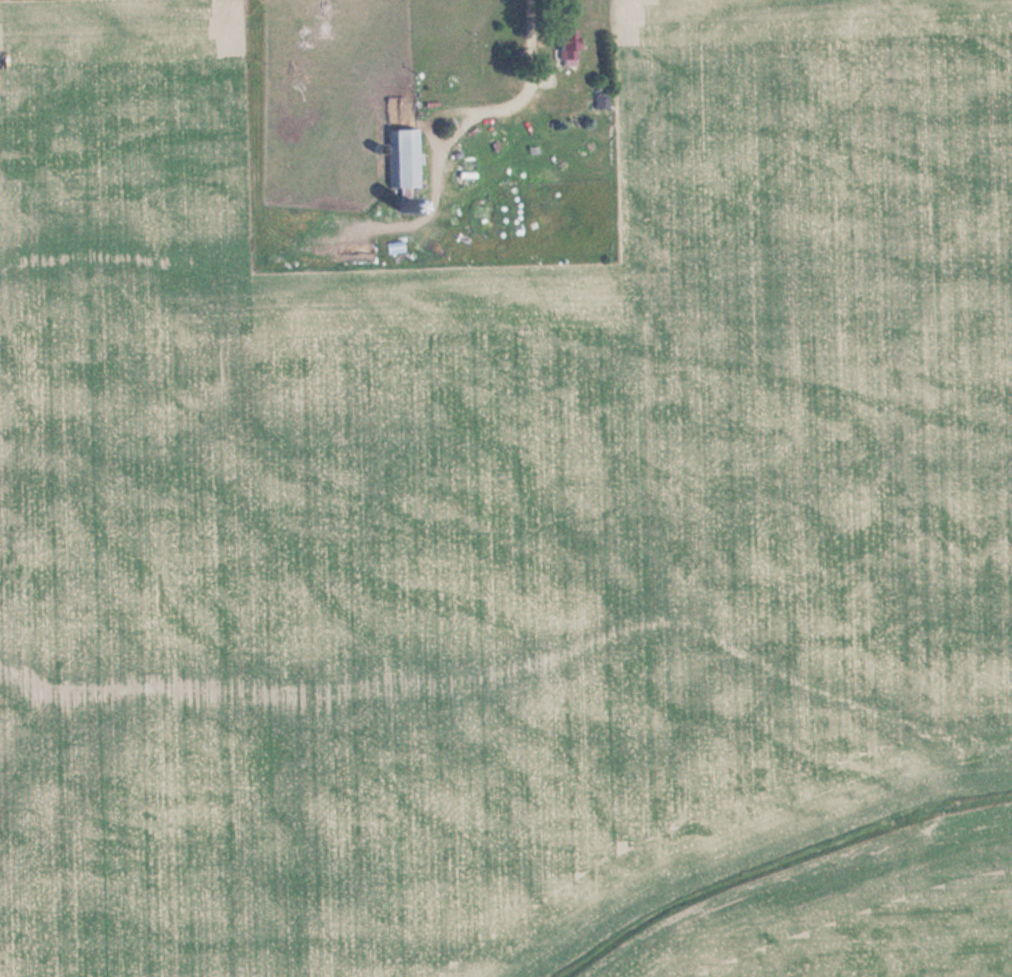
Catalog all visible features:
building: (569, 47)
building: (405, 158)

